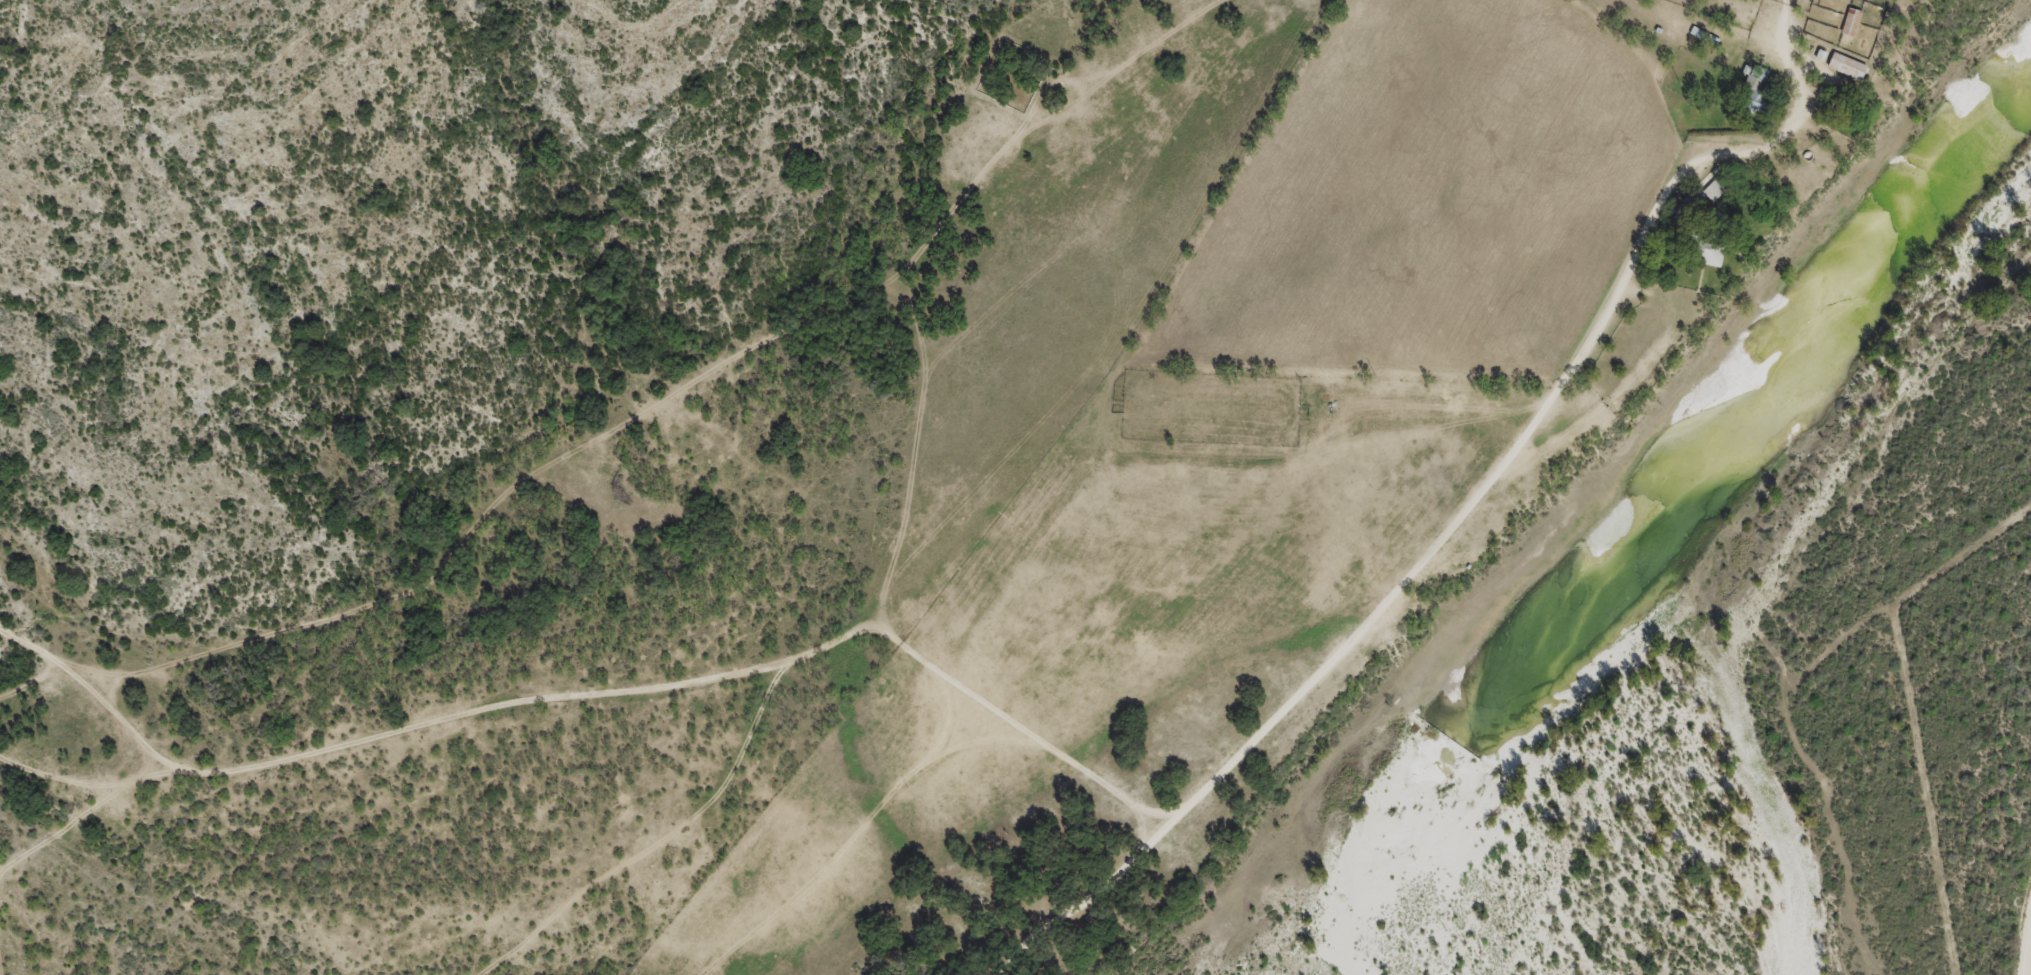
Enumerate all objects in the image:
building: (1849, 23)
building: (1844, 67)
building: (1753, 90)
building: (1712, 188)
building: (1714, 218)
building: (1704, 254)
road: (1468, 510)
road: (595, 698)
road: (661, 838)
road: (2027, 951)

